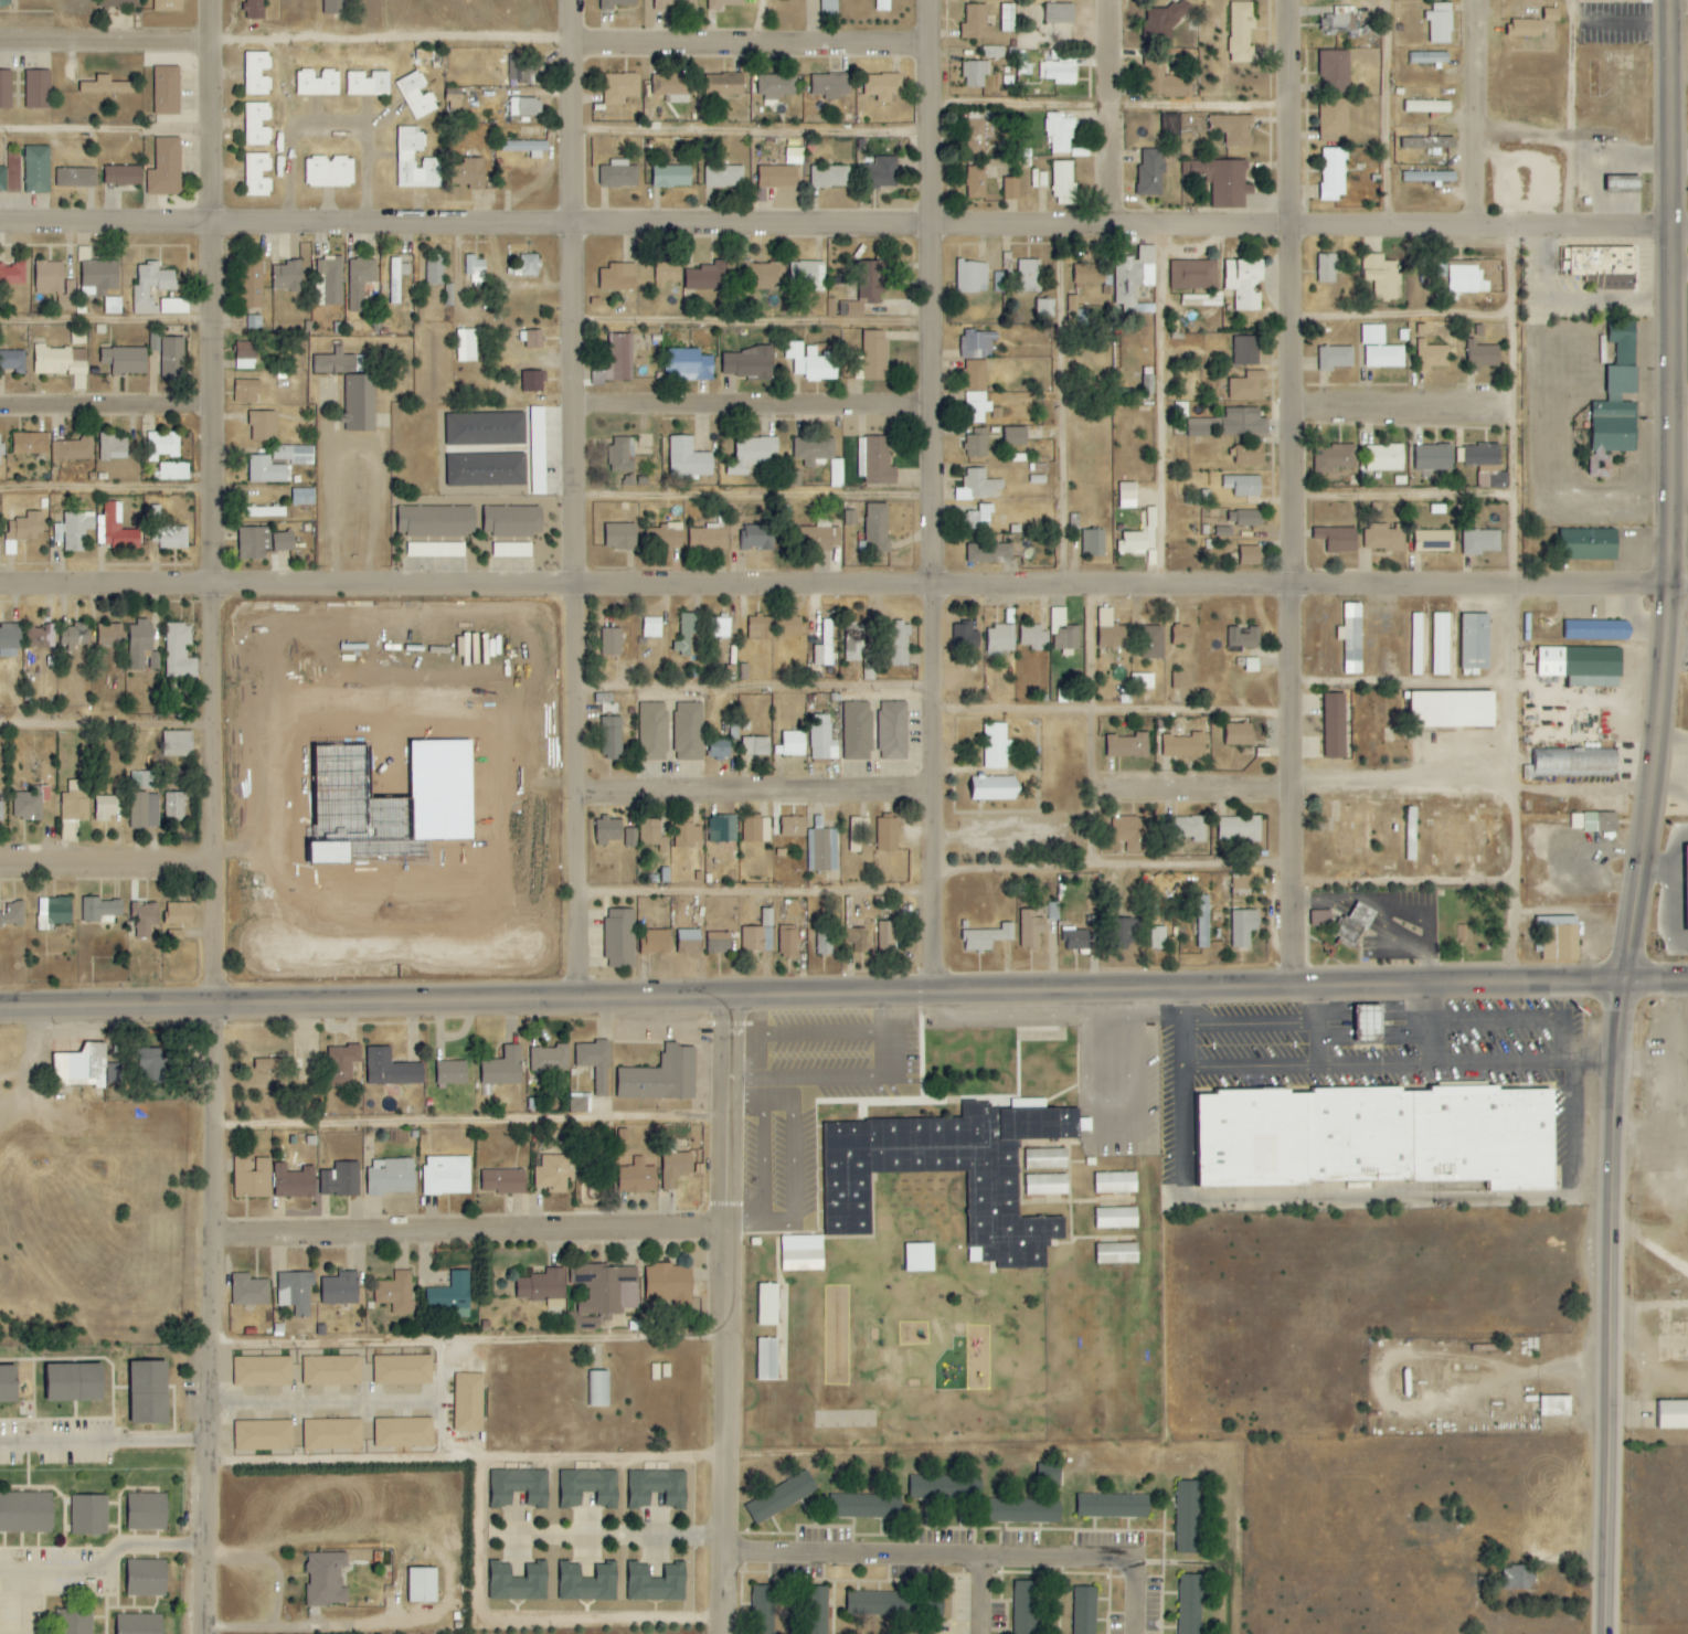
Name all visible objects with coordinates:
building: (1595, 0)
building: (115, 2)
building: (615, 3)
building: (3, 4)
building: (670, 4)
building: (723, 4)
building: (167, 6)
building: (882, 6)
building: (335, 7)
building: (829, 9)
building: (255, 10)
building: (1060, 13)
building: (1551, 14)
building: (1007, 18)
building: (1341, 21)
road: (769, 22)
road: (938, 23)
building: (976, 23)
building: (1166, 23)
building: (1440, 24)
building: (1525, 29)
building: (1241, 32)
road: (393, 36)
road: (104, 40)
building: (1539, 41)
road: (758, 43)
building: (1430, 59)
building: (520, 66)
building: (1335, 70)
building: (1059, 72)
building: (256, 74)
building: (975, 74)
building: (367, 83)
building: (1163, 83)
building: (317, 84)
building: (669, 84)
building: (723, 84)
building: (828, 85)
building: (883, 86)
building: (105, 87)
building: (776, 87)
building: (619, 88)
building: (38, 89)
building: (6, 91)
building: (166, 91)
building: (416, 96)
building: (454, 99)
building: (522, 107)
road: (1112, 107)
building: (1427, 107)
road: (1482, 112)
road: (1108, 113)
road: (1386, 113)
road: (1578, 113)
building: (1333, 118)
building: (255, 125)
road: (339, 126)
building: (1170, 126)
road: (104, 129)
building: (1233, 130)
building: (979, 131)
building: (1060, 132)
road: (1581, 141)
building: (1425, 144)
building: (525, 148)
building: (405, 156)
building: (794, 156)
building: (882, 166)
building: (164, 168)
building: (36, 170)
building: (329, 172)
building: (1150, 173)
building: (1333, 173)
building: (618, 174)
building: (121, 176)
building: (256, 176)
building: (669, 176)
building: (775, 176)
building: (827, 176)
building: (723, 177)
building: (1426, 177)
building: (75, 178)
building: (2, 180)
building: (1063, 180)
building: (1222, 181)
building: (976, 182)
building: (1011, 189)
road: (843, 225)
building: (528, 265)
building: (1601, 266)
building: (1326, 268)
building: (475, 269)
building: (434, 270)
building: (667, 272)
building: (807, 273)
building: (12, 274)
building: (767, 275)
building: (1086, 275)
building: (1193, 275)
building: (1381, 275)
building: (287, 276)
building: (972, 276)
building: (1027, 276)
building: (1132, 276)
building: (49, 277)
building: (98, 277)
building: (618, 277)
building: (707, 277)
building: (396, 278)
building: (1464, 278)
building: (328, 280)
building: (359, 282)
building: (1244, 283)
building: (252, 284)
building: (149, 287)
building: (867, 288)
building: (1203, 299)
building: (112, 305)
building: (173, 306)
building: (1044, 308)
building: (1073, 310)
road: (1401, 315)
road: (104, 320)
building: (254, 322)
road: (760, 325)
building: (1372, 335)
building: (531, 338)
building: (1623, 339)
building: (977, 343)
building: (466, 346)
building: (1245, 350)
building: (874, 354)
building: (1384, 356)
building: (1482, 356)
building: (172, 357)
building: (1432, 357)
building: (1335, 358)
building: (124, 360)
building: (245, 360)
building: (12, 361)
building: (60, 361)
building: (617, 361)
building: (335, 362)
building: (810, 362)
building: (746, 363)
building: (688, 365)
building: (975, 375)
building: (533, 381)
building: (1246, 385)
building: (246, 391)
building: (352, 403)
road: (105, 404)
road: (1059, 404)
road: (1158, 404)
building: (369, 405)
road: (762, 406)
building: (976, 406)
road: (1402, 407)
building: (1614, 421)
building: (1243, 422)
building: (263, 426)
building: (1199, 427)
building: (1015, 436)
building: (29, 444)
building: (976, 445)
building: (162, 446)
building: (112, 447)
building: (74, 448)
building: (486, 449)
building: (537, 450)
building: (0, 453)
building: (294, 454)
building: (751, 454)
building: (622, 455)
building: (1249, 455)
building: (819, 456)
building: (1334, 456)
building: (1384, 457)
building: (1434, 457)
building: (688, 459)
building: (878, 461)
building: (1486, 463)
building: (266, 470)
building: (173, 471)
road: (517, 475)
building: (1243, 485)
building: (976, 486)
road: (105, 487)
road: (1401, 494)
road: (1289, 495)
building: (1127, 496)
building: (302, 497)
road: (584, 497)
road: (762, 497)
building: (265, 512)
building: (850, 518)
building: (979, 518)
building: (1244, 518)
road: (941, 519)
building: (436, 521)
building: (512, 521)
building: (118, 529)
building: (76, 530)
building: (875, 530)
building: (22, 531)
building: (620, 535)
building: (665, 535)
building: (169, 537)
building: (757, 537)
building: (815, 538)
building: (1383, 538)
building: (708, 539)
building: (1338, 539)
building: (1433, 540)
building: (283, 541)
building: (1482, 541)
building: (1093, 542)
building: (253, 543)
building: (1133, 543)
building: (1589, 544)
building: (435, 550)
building: (512, 550)
building: (989, 552)
building: (1250, 555)
road: (843, 585)
road: (1514, 604)
road: (1675, 617)
building: (788, 626)
building: (652, 627)
building: (760, 627)
building: (720, 628)
building: (1063, 630)
building: (1111, 630)
building: (1597, 630)
building: (74, 635)
building: (110, 635)
building: (684, 635)
building: (40, 636)
building: (965, 636)
building: (1033, 636)
building: (1181, 636)
building: (1243, 637)
building: (1351, 638)
building: (999, 639)
building: (9, 640)
building: (611, 641)
building: (853, 641)
building: (1153, 643)
building: (899, 644)
building: (1440, 644)
building: (1475, 644)
building: (141, 646)
building: (824, 646)
building: (179, 651)
building: (1252, 665)
building: (1582, 666)
building: (869, 667)
building: (1177, 680)
building: (1143, 681)
road: (1402, 686)
road: (763, 690)
building: (605, 703)
building: (1453, 709)
road: (1116, 711)
road: (105, 724)
road: (1091, 725)
building: (1335, 726)
building: (688, 731)
building: (857, 731)
building: (892, 731)
building: (652, 732)
building: (1238, 734)
building: (611, 738)
building: (821, 739)
building: (177, 744)
building: (790, 744)
building: (1183, 745)
building: (755, 746)
building: (996, 746)
building: (1127, 746)
building: (719, 749)
building: (1574, 762)
building: (148, 781)
building: (994, 788)
road: (1303, 788)
road: (764, 791)
building: (74, 802)
building: (30, 804)
building: (174, 805)
building: (108, 806)
building: (1, 811)
building: (145, 811)
road: (210, 817)
building: (1576, 821)
building: (1601, 823)
building: (793, 827)
building: (1186, 828)
building: (1240, 828)
building: (722, 829)
building: (607, 830)
building: (756, 830)
building: (686, 834)
building: (857, 834)
building: (1130, 834)
building: (651, 835)
building: (888, 835)
building: (1411, 836)
building: (630, 838)
building: (1483, 843)
building: (821, 850)
road: (105, 861)
building: (892, 864)
road: (1115, 866)
building: (1241, 883)
road: (763, 895)
building: (98, 910)
building: (1053, 911)
building: (53, 913)
building: (12, 914)
building: (179, 914)
building: (145, 919)
building: (1320, 919)
building: (1202, 922)
building: (1355, 924)
building: (1243, 927)
building: (1031, 929)
building: (758, 935)
building: (1119, 935)
building: (885, 936)
building: (619, 938)
building: (857, 938)
building: (987, 938)
building: (1158, 938)
building: (1559, 938)
building: (688, 941)
building: (824, 941)
building: (655, 942)
building: (719, 943)
building: (788, 945)
road: (843, 991)
road: (880, 1011)
road: (757, 1014)
road: (1252, 1023)
building: (1370, 1025)
road: (1318, 1028)
road: (821, 1031)
road: (881, 1051)
road: (763, 1055)
building: (549, 1059)
building: (282, 1063)
road: (751, 1063)
building: (264, 1064)
building: (342, 1064)
building: (595, 1064)
building: (151, 1065)
road: (1405, 1065)
building: (81, 1068)
building: (503, 1068)
building: (391, 1069)
building: (452, 1073)
building: (661, 1076)
road: (810, 1076)
road: (765, 1099)
road: (478, 1124)
building: (1378, 1137)
road: (763, 1150)
building: (1045, 1159)
building: (675, 1168)
building: (554, 1174)
building: (446, 1176)
building: (391, 1177)
building: (252, 1178)
building: (637, 1178)
road: (796, 1178)
building: (340, 1180)
building: (502, 1181)
building: (294, 1182)
building: (1116, 1182)
building: (1047, 1185)
building: (992, 1196)
road: (1303, 1198)
building: (1116, 1218)
road: (478, 1231)
building: (801, 1253)
building: (1116, 1253)
building: (920, 1258)
building: (668, 1283)
building: (340, 1288)
building: (543, 1288)
building: (606, 1288)
building: (248, 1291)
building: (295, 1292)
building: (395, 1293)
building: (450, 1295)
building: (767, 1304)
road: (1653, 1305)
road: (735, 1313)
road: (477, 1341)
building: (767, 1359)
building: (331, 1370)
building: (402, 1370)
building: (262, 1371)
building: (74, 1383)
building: (8, 1384)
building: (597, 1388)
building: (148, 1393)
road: (319, 1402)
building: (468, 1402)
building: (1554, 1405)
building: (1674, 1415)
building: (402, 1433)
road: (1617, 1433)
building: (332, 1434)
building: (263, 1435)
road: (108, 1446)
road: (611, 1458)
building: (655, 1466)
building: (519, 1487)
building: (588, 1487)
building: (933, 1487)
building: (657, 1488)
building: (781, 1497)
building: (864, 1506)
building: (1113, 1506)
building: (1025, 1510)
building: (25, 1513)
building: (145, 1513)
building: (88, 1515)
building: (1187, 1517)
road: (616, 1535)
road: (975, 1555)
road: (108, 1564)
building: (145, 1578)
building: (1518, 1578)
building: (326, 1579)
building: (587, 1583)
building: (656, 1583)
building: (422, 1584)
road: (989, 1594)
road: (288, 1598)
road: (19, 1603)
building: (877, 1604)
building: (1190, 1604)
building: (1025, 1608)
building: (763, 1610)
building: (1084, 1610)
road: (613, 1620)
building: (73, 1621)
building: (138, 1624)

